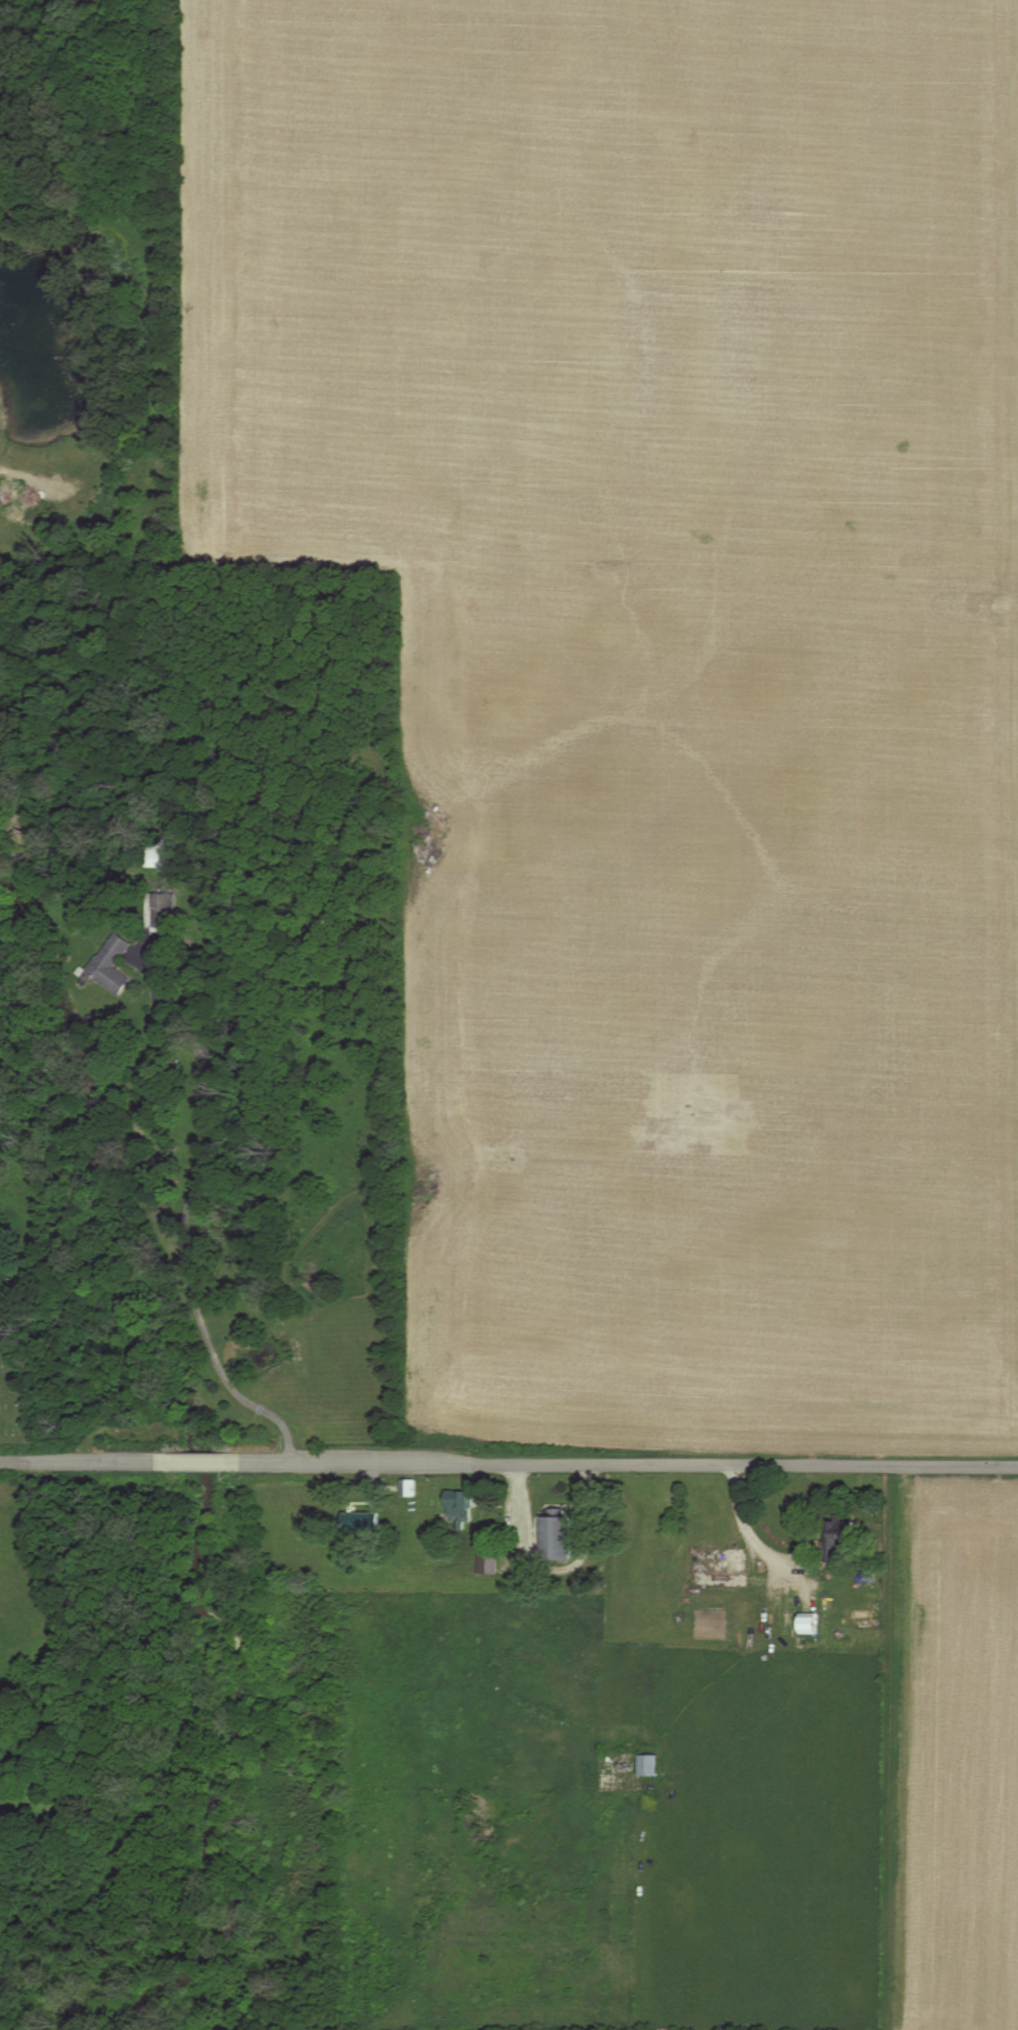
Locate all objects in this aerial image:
building: (162, 852)
building: (111, 964)
road: (185, 1215)
park: (17, 1371)
road: (629, 1455)
road: (77, 1459)
road: (198, 1459)
building: (407, 1487)
building: (466, 1500)
road: (529, 1510)
building: (360, 1521)
road: (763, 1530)
building: (563, 1531)
parking lot: (529, 1539)
building: (839, 1539)
building: (496, 1551)
building: (488, 1561)
building: (720, 1569)
building: (810, 1624)

